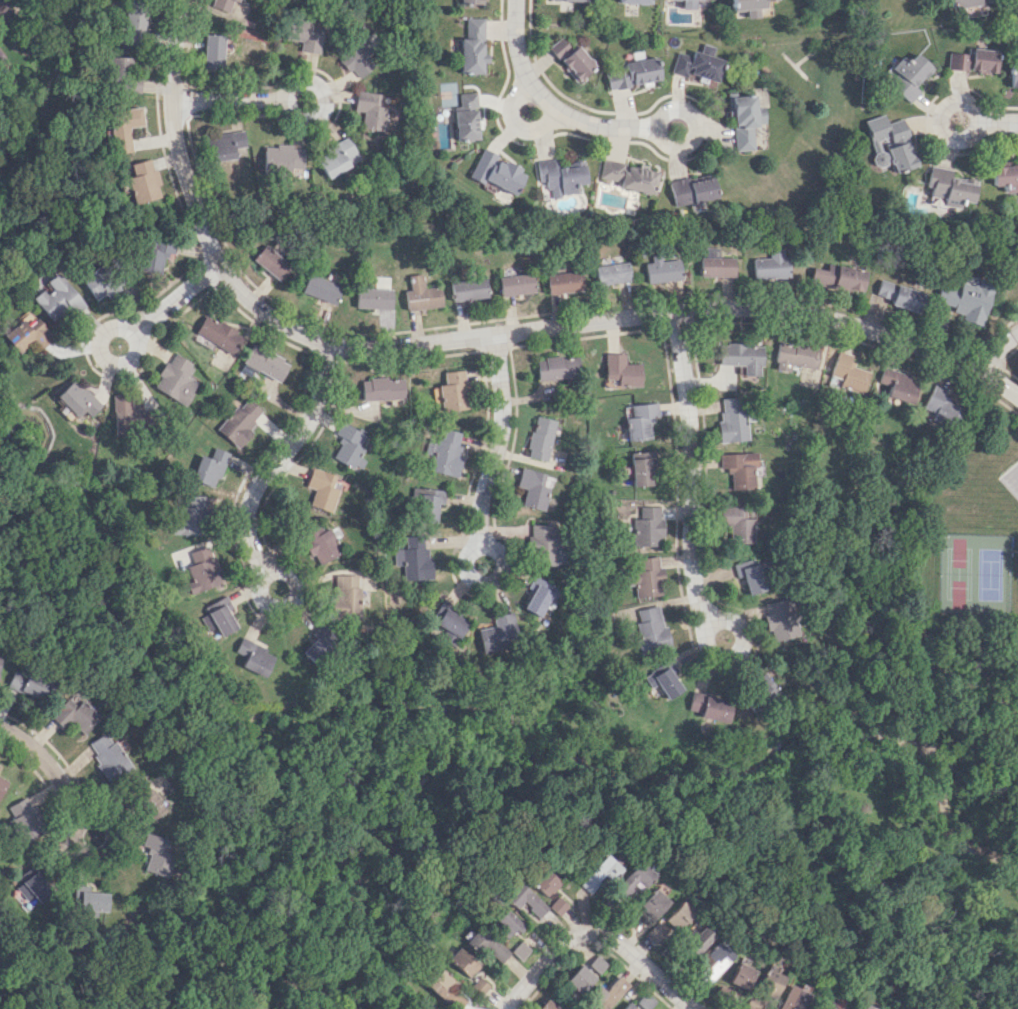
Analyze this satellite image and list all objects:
building: (572, 0)
building: (635, 1)
building: (471, 2)
building: (223, 4)
building: (689, 4)
building: (746, 6)
building: (2, 10)
building: (133, 15)
building: (303, 34)
building: (473, 46)
building: (213, 50)
building: (0, 55)
building: (572, 58)
building: (357, 59)
building: (972, 60)
building: (699, 65)
building: (632, 73)
building: (122, 74)
building: (906, 76)
building: (1013, 76)
road: (324, 99)
road: (228, 100)
road: (549, 101)
building: (370, 109)
road: (939, 116)
building: (466, 117)
road: (999, 119)
building: (746, 120)
road: (701, 124)
building: (122, 127)
road: (520, 127)
building: (438, 131)
building: (888, 142)
building: (227, 146)
building: (336, 157)
road: (683, 158)
building: (282, 159)
building: (496, 172)
building: (1005, 175)
building: (629, 176)
building: (559, 177)
building: (143, 182)
building: (947, 187)
building: (693, 189)
building: (710, 251)
building: (155, 253)
building: (271, 262)
building: (771, 265)
building: (716, 266)
building: (662, 270)
building: (611, 273)
building: (838, 277)
building: (562, 282)
building: (96, 284)
building: (514, 284)
building: (320, 288)
building: (467, 288)
building: (420, 294)
building: (897, 295)
road: (174, 297)
building: (58, 298)
building: (372, 298)
building: (964, 299)
road: (674, 326)
road: (257, 327)
road: (992, 331)
building: (218, 333)
building: (25, 334)
road: (475, 336)
road: (494, 349)
road: (995, 350)
road: (99, 351)
road: (1005, 354)
road: (326, 355)
building: (740, 357)
road: (411, 358)
road: (984, 359)
building: (798, 361)
building: (264, 362)
building: (555, 367)
building: (618, 371)
building: (846, 373)
road: (1008, 375)
building: (175, 379)
street lamp: (977, 384)
building: (895, 385)
building: (381, 388)
building: (449, 391)
building: (77, 399)
building: (937, 405)
building: (128, 414)
building: (729, 419)
building: (638, 420)
building: (240, 421)
road: (481, 422)
road: (496, 437)
building: (539, 438)
building: (347, 445)
building: (443, 452)
road: (279, 456)
parking lot: (1017, 459)
building: (209, 467)
road: (1015, 467)
building: (639, 468)
road: (689, 468)
building: (740, 469)
parking lot: (1009, 481)
road: (1007, 487)
building: (321, 489)
building: (533, 489)
building: (428, 503)
building: (190, 516)
building: (735, 523)
building: (647, 527)
building: (319, 542)
building: (543, 543)
road: (1014, 549)
building: (413, 558)
building: (201, 570)
park: (973, 572)
building: (750, 574)
building: (644, 577)
road: (477, 582)
building: (345, 596)
road: (293, 597)
building: (537, 597)
building: (218, 617)
building: (779, 619)
building: (450, 623)
building: (650, 628)
building: (498, 631)
road: (756, 644)
building: (316, 646)
road: (733, 652)
building: (253, 656)
building: (662, 678)
building: (29, 685)
building: (714, 709)
building: (76, 712)
building: (108, 757)
road: (51, 766)
road: (32, 767)
building: (2, 784)
building: (149, 804)
building: (26, 819)
road: (900, 834)
road: (102, 853)
building: (156, 854)
building: (598, 872)
building: (631, 880)
building: (542, 881)
building: (30, 890)
building: (521, 898)
road: (898, 898)
building: (93, 901)
building: (653, 903)
building: (555, 905)
building: (677, 914)
building: (624, 916)
building: (503, 923)
street lamp: (593, 924)
building: (653, 931)
building: (694, 940)
building: (485, 946)
building: (517, 950)
building: (460, 962)
road: (640, 962)
building: (712, 962)
building: (596, 964)
road: (539, 967)
road: (632, 972)
road: (845, 972)
road: (549, 973)
building: (740, 975)
road: (839, 976)
building: (579, 978)
road: (830, 980)
building: (769, 982)
road: (819, 984)
building: (478, 985)
road: (823, 985)
building: (443, 989)
building: (607, 992)
building: (721, 994)
building: (791, 997)
building: (751, 1002)
building: (831, 1004)
building: (545, 1005)
building: (627, 1006)
building: (865, 1006)
building: (850, 1008)

